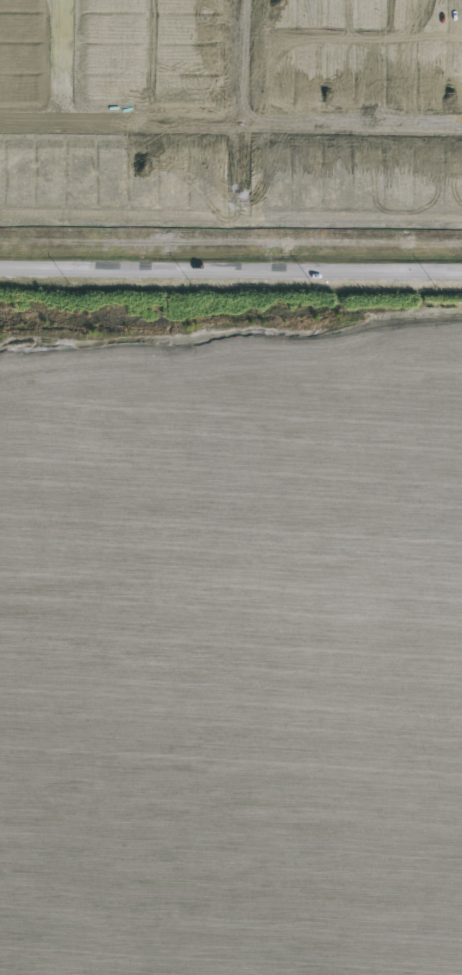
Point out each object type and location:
road: (64, 59)
road: (230, 120)
road: (246, 134)
road: (231, 269)

